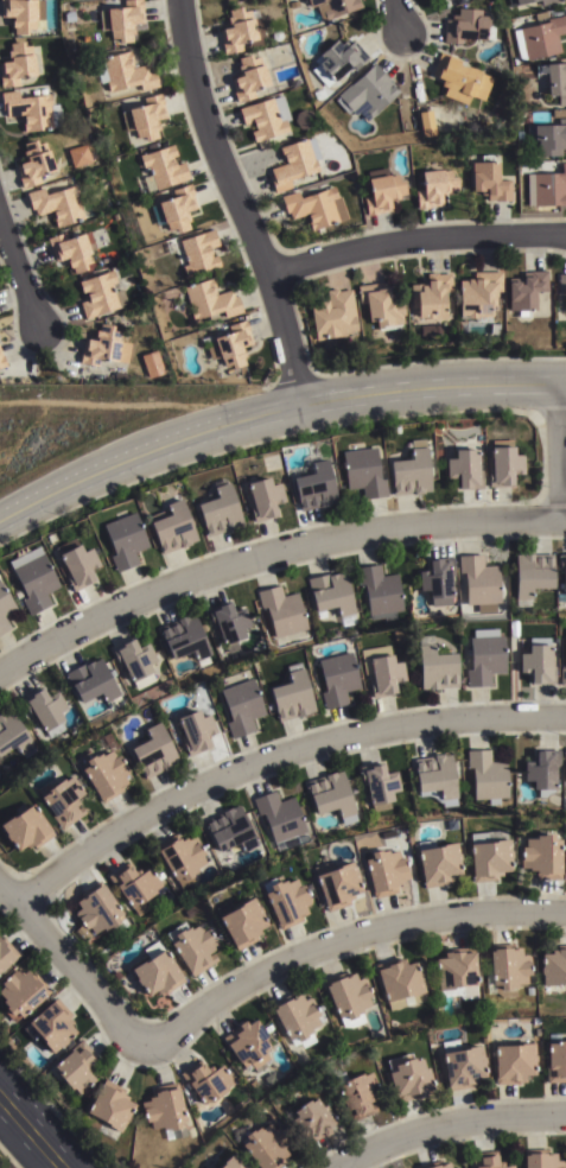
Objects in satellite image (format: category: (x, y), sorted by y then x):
building: (446, 0)
building: (530, 2)
building: (335, 8)
building: (21, 14)
road: (398, 17)
building: (122, 20)
building: (468, 27)
building: (241, 31)
building: (543, 38)
building: (339, 61)
building: (17, 66)
building: (125, 71)
building: (248, 80)
building: (460, 81)
building: (557, 83)
building: (367, 94)
building: (32, 112)
building: (146, 119)
building: (262, 121)
building: (426, 125)
building: (551, 141)
building: (78, 154)
building: (34, 165)
building: (294, 165)
building: (163, 170)
building: (490, 182)
building: (434, 189)
building: (547, 190)
building: (382, 195)
road: (237, 203)
building: (57, 205)
building: (316, 209)
building: (176, 211)
road: (414, 240)
building: (72, 252)
building: (199, 254)
road: (19, 269)
building: (125, 283)
building: (562, 286)
building: (527, 291)
building: (100, 297)
building: (430, 297)
building: (479, 297)
building: (210, 301)
building: (381, 305)
building: (333, 316)
building: (494, 330)
building: (435, 331)
building: (229, 347)
building: (107, 351)
building: (1, 361)
road: (272, 413)
building: (394, 429)
road: (558, 449)
building: (503, 463)
building: (465, 465)
building: (411, 469)
building: (363, 470)
building: (314, 484)
building: (262, 496)
building: (218, 508)
building: (174, 525)
building: (125, 539)
road: (271, 551)
building: (77, 559)
building: (562, 567)
building: (532, 573)
building: (33, 577)
building: (438, 578)
building: (479, 580)
building: (380, 590)
building: (331, 593)
building: (5, 608)
building: (281, 609)
building: (229, 622)
building: (186, 637)
building: (485, 655)
building: (136, 659)
building: (539, 662)
building: (435, 664)
building: (562, 671)
building: (384, 673)
building: (337, 677)
building: (94, 681)
building: (291, 693)
building: (242, 705)
building: (45, 709)
building: (196, 730)
building: (12, 732)
building: (154, 750)
road: (274, 756)
building: (543, 769)
building: (106, 773)
building: (565, 774)
building: (488, 776)
building: (435, 777)
building: (379, 783)
building: (331, 794)
building: (63, 799)
building: (279, 818)
building: (26, 827)
building: (229, 830)
building: (489, 853)
building: (179, 855)
building: (542, 855)
building: (439, 863)
building: (384, 870)
building: (336, 883)
building: (133, 884)
building: (285, 900)
building: (98, 910)
building: (241, 921)
road: (346, 938)
building: (192, 946)
building: (6, 954)
road: (72, 966)
building: (554, 966)
building: (507, 970)
building: (154, 971)
building: (457, 973)
building: (400, 983)
building: (21, 992)
building: (348, 997)
building: (295, 1017)
building: (50, 1027)
building: (450, 1042)
building: (248, 1045)
building: (557, 1061)
building: (514, 1062)
building: (463, 1067)
building: (76, 1068)
building: (408, 1077)
building: (205, 1080)
building: (356, 1092)
building: (109, 1111)
building: (163, 1111)
building: (312, 1118)
road: (446, 1125)
road: (34, 1129)
building: (261, 1145)
building: (541, 1160)
building: (486, 1161)
building: (230, 1162)
building: (434, 1166)

